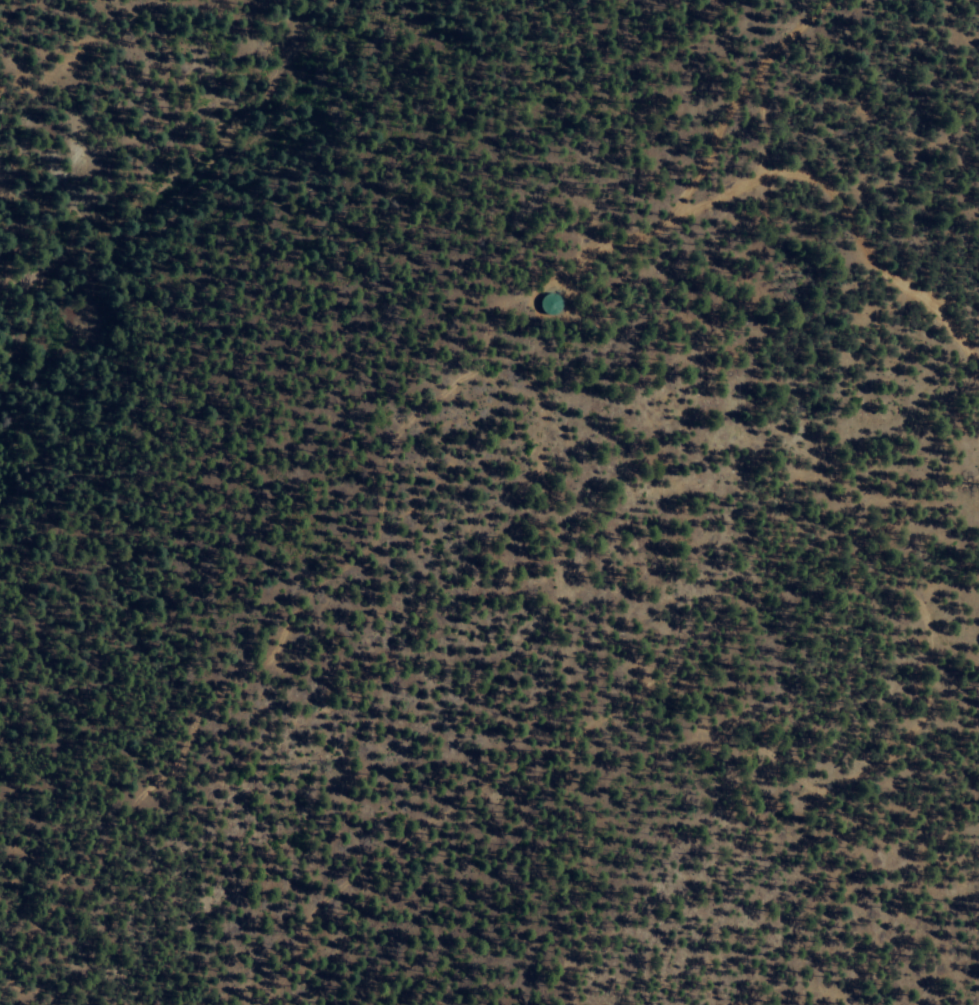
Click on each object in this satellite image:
building: (547, 303)
storage tank: (547, 303)
road: (728, 789)

